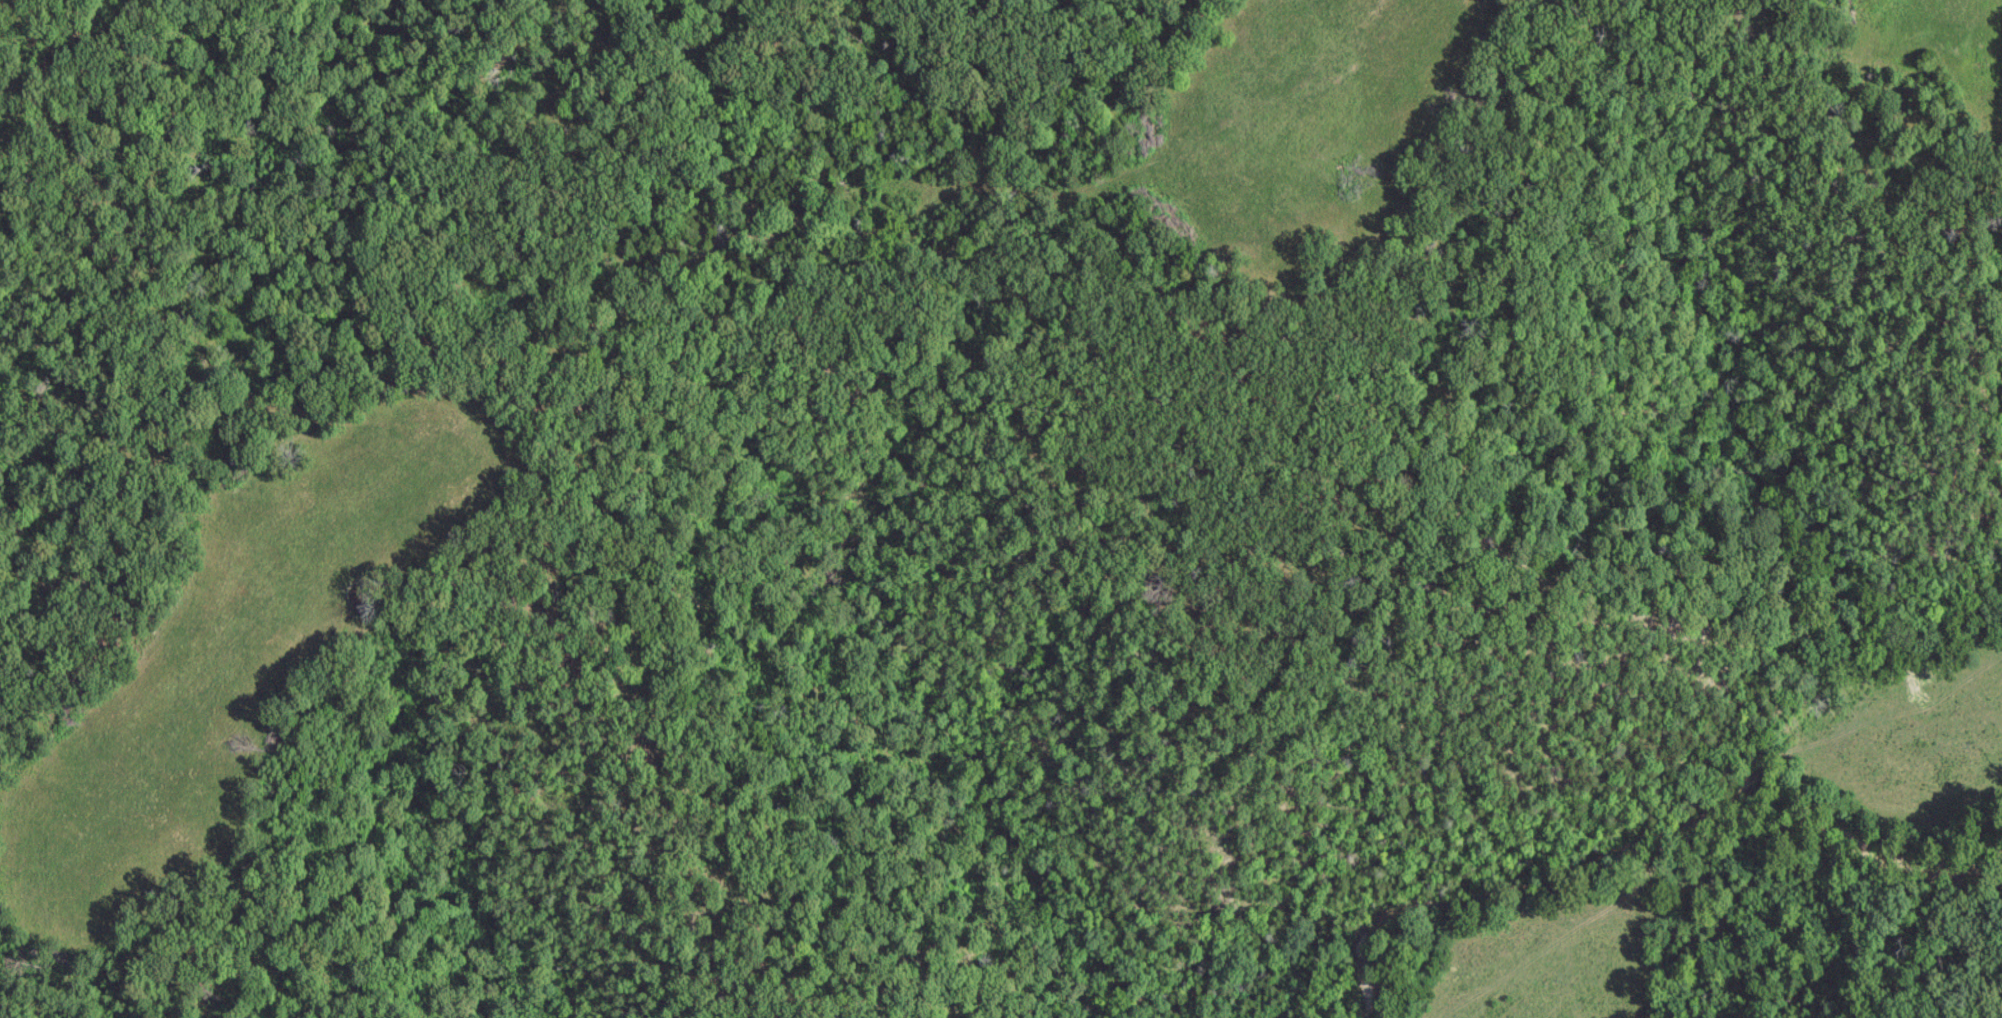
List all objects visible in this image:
road: (1931, 663)

